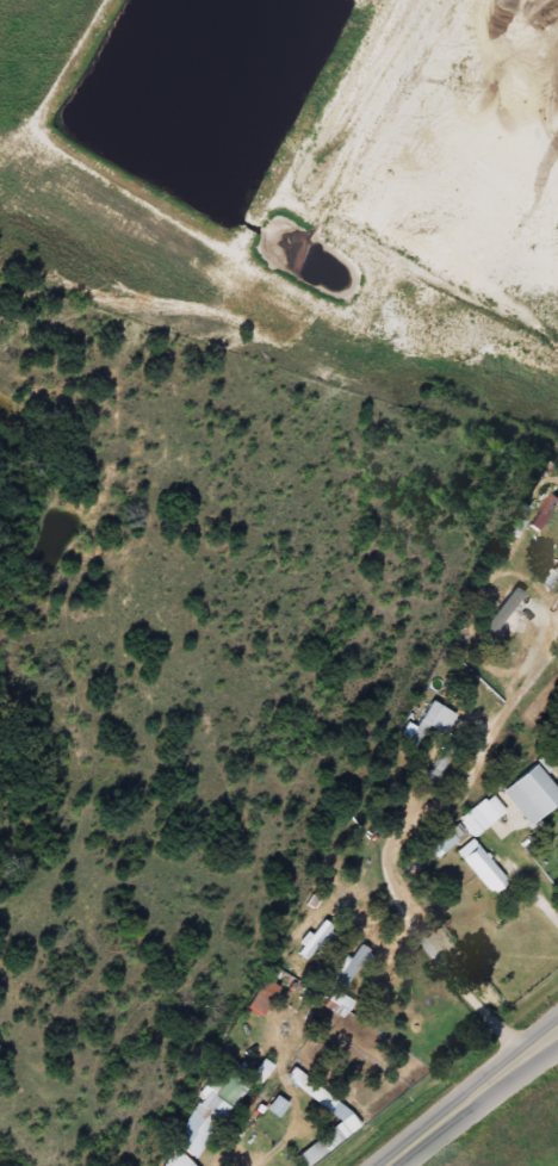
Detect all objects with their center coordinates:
building: (500, 610)
building: (473, 817)
building: (477, 867)
road: (521, 872)
building: (311, 947)
building: (256, 997)
building: (211, 1100)
road: (472, 1100)
building: (162, 1165)

